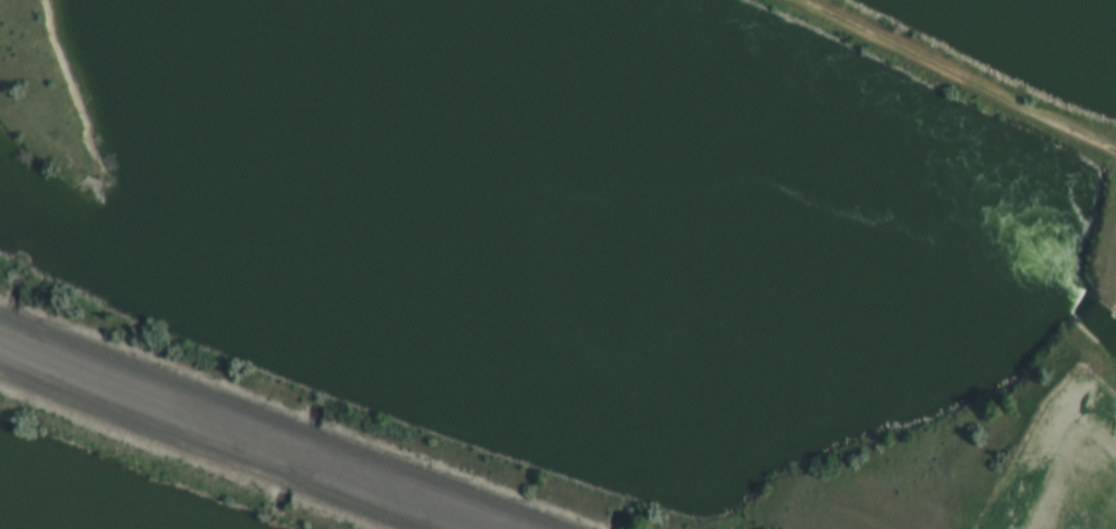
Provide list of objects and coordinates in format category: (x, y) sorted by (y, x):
road: (950, 79)
road: (230, 437)

